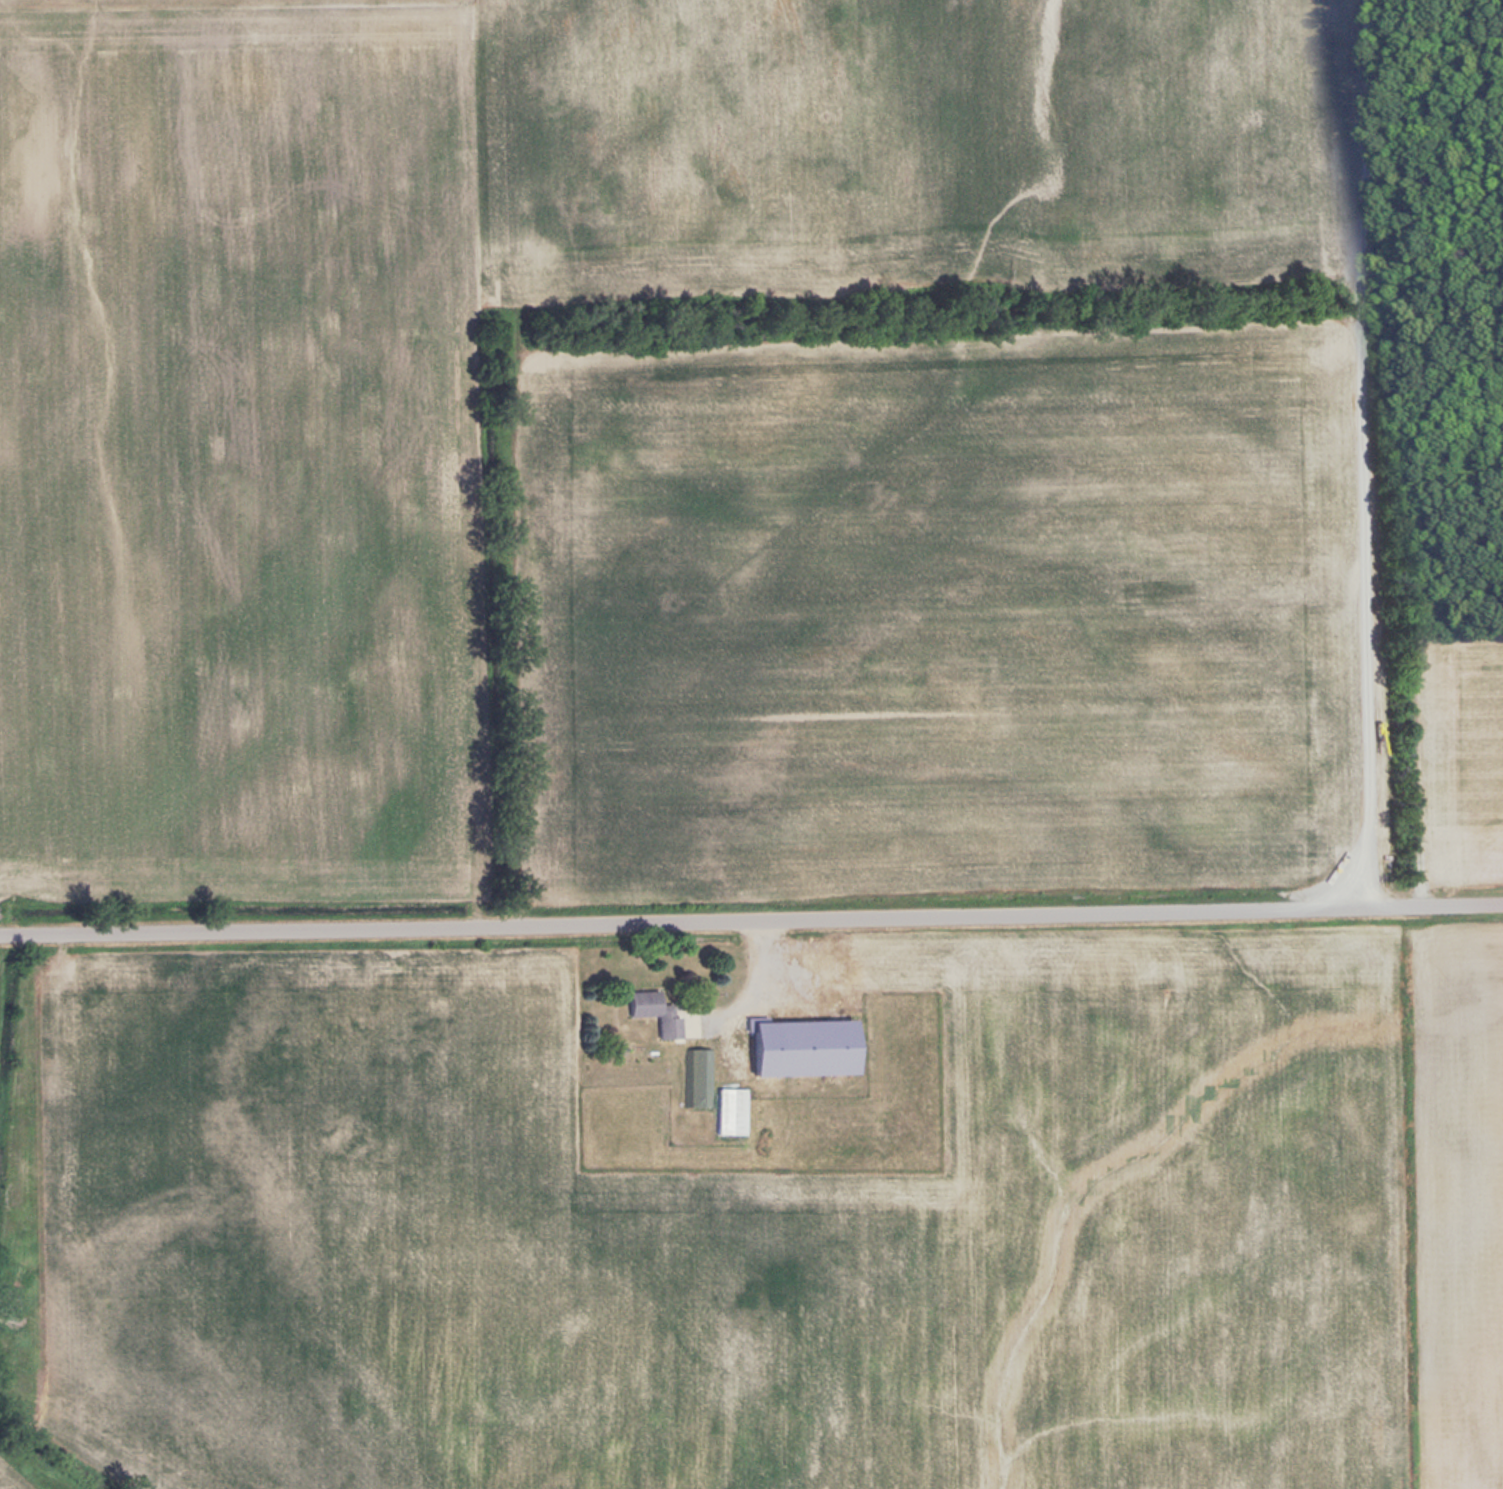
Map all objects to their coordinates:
road: (751, 923)
building: (649, 1011)
building: (797, 1047)
building: (699, 1069)
building: (727, 1110)

